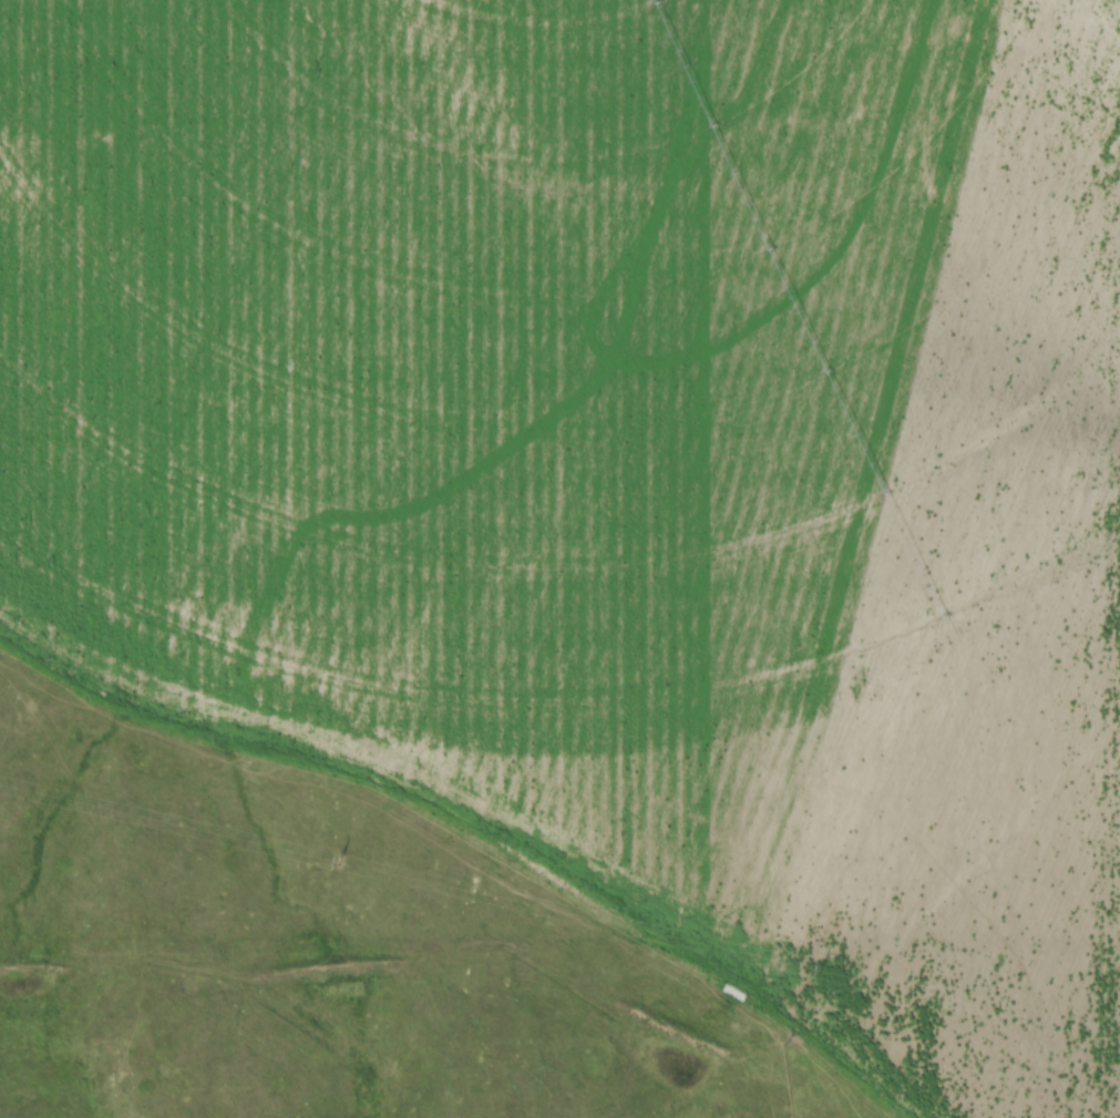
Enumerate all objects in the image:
power tower: (340, 858)
power tower: (822, 962)

